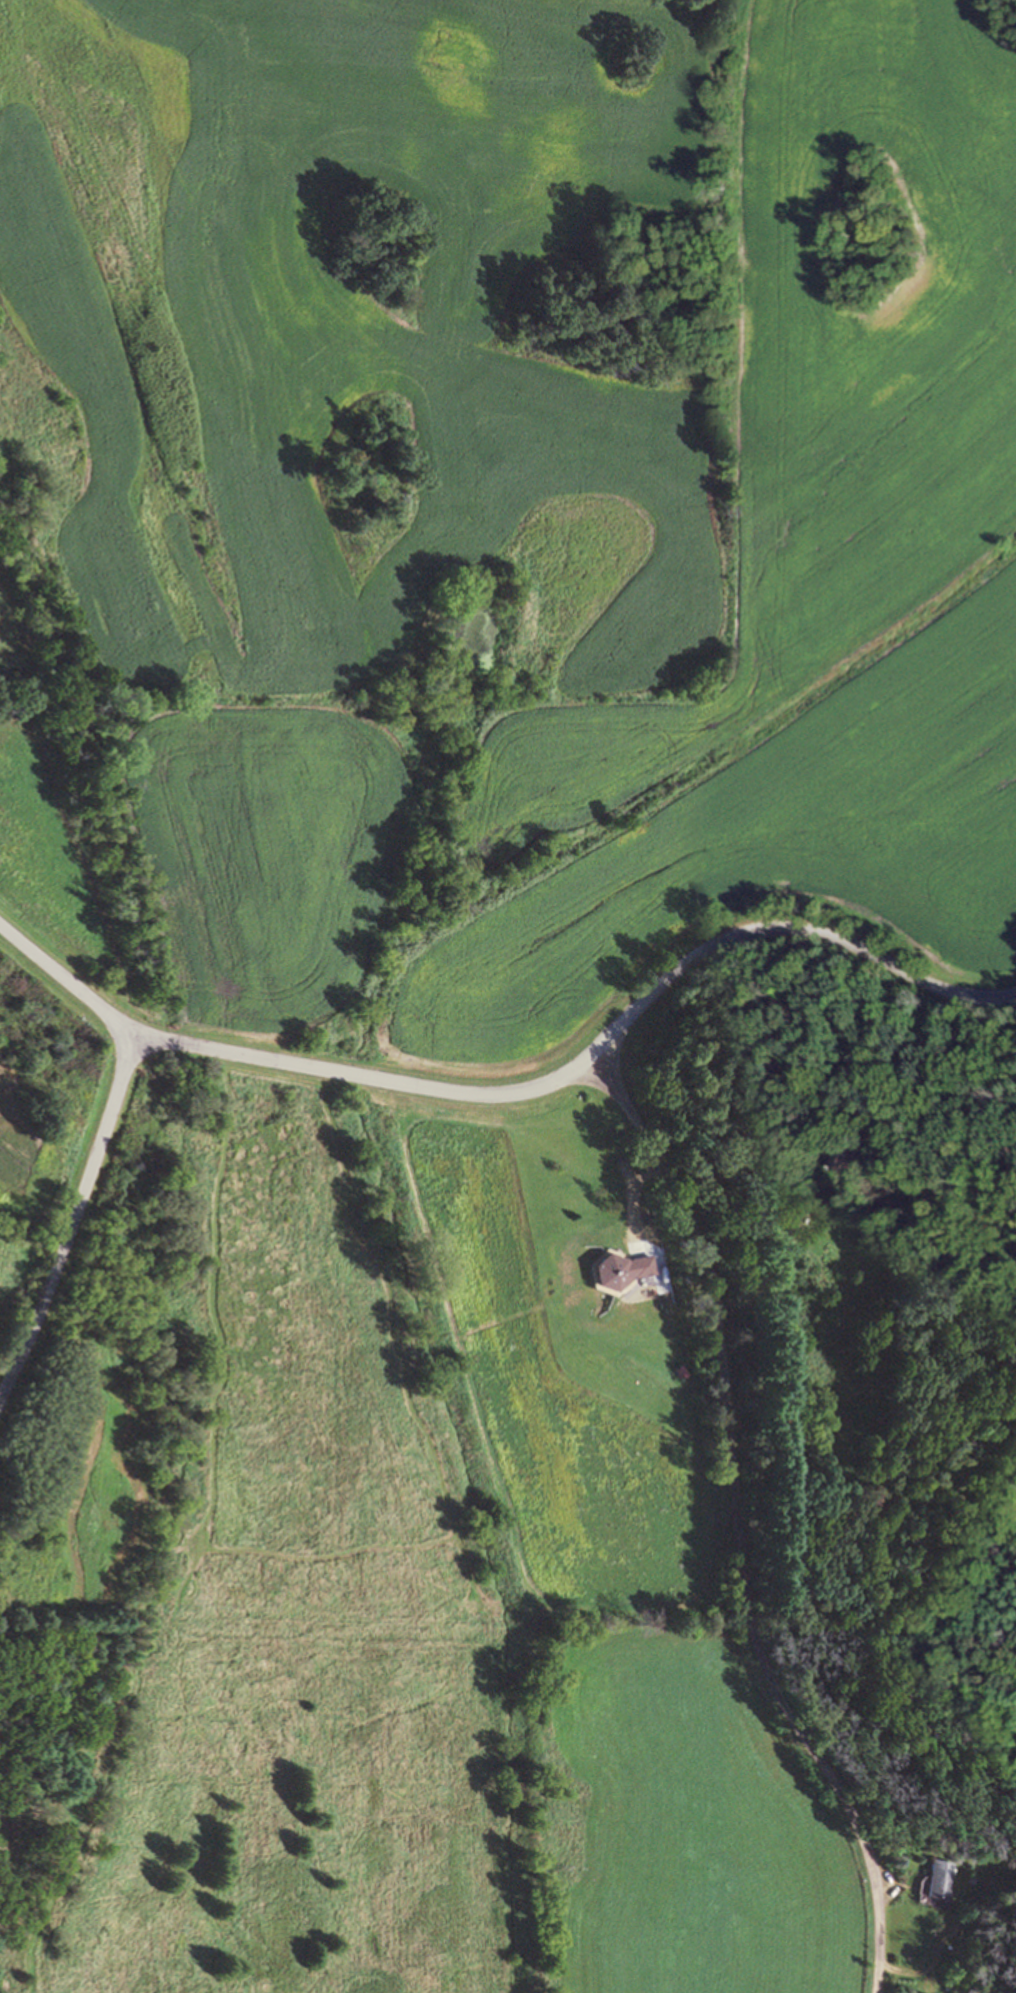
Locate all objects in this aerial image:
road: (788, 929)
road: (361, 1076)
road: (99, 1143)
building: (843, 1156)
road: (628, 1193)
building: (618, 1271)
building: (680, 1369)
road: (739, 1526)
building: (937, 1877)

